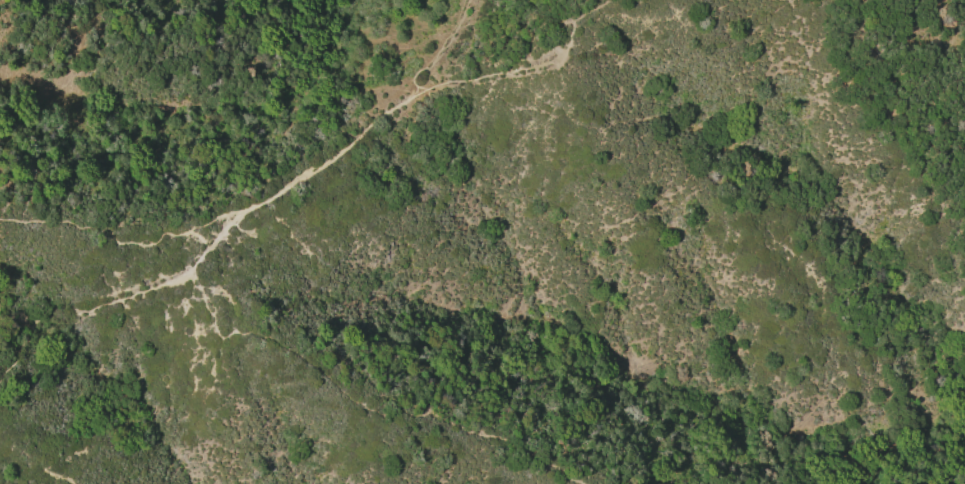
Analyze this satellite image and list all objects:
road: (442, 49)
road: (299, 182)
road: (361, 402)

